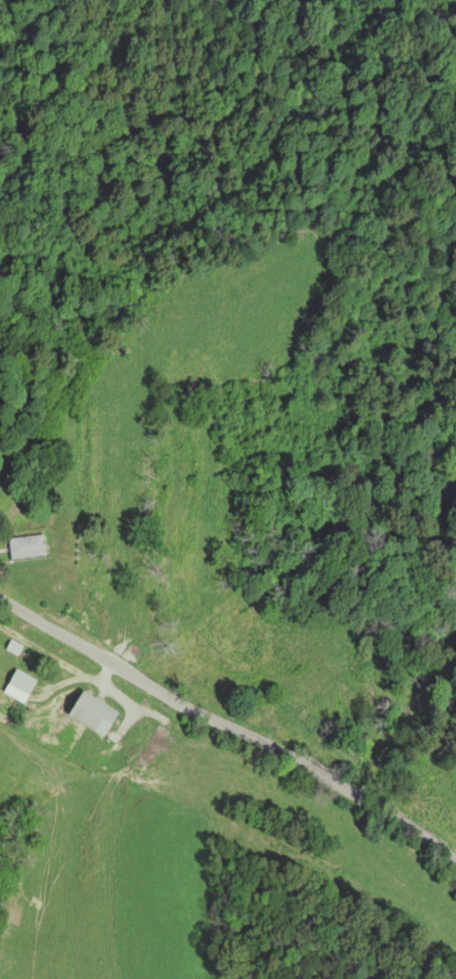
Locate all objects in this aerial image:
building: (24, 547)
building: (17, 688)
building: (89, 715)
road: (230, 728)

